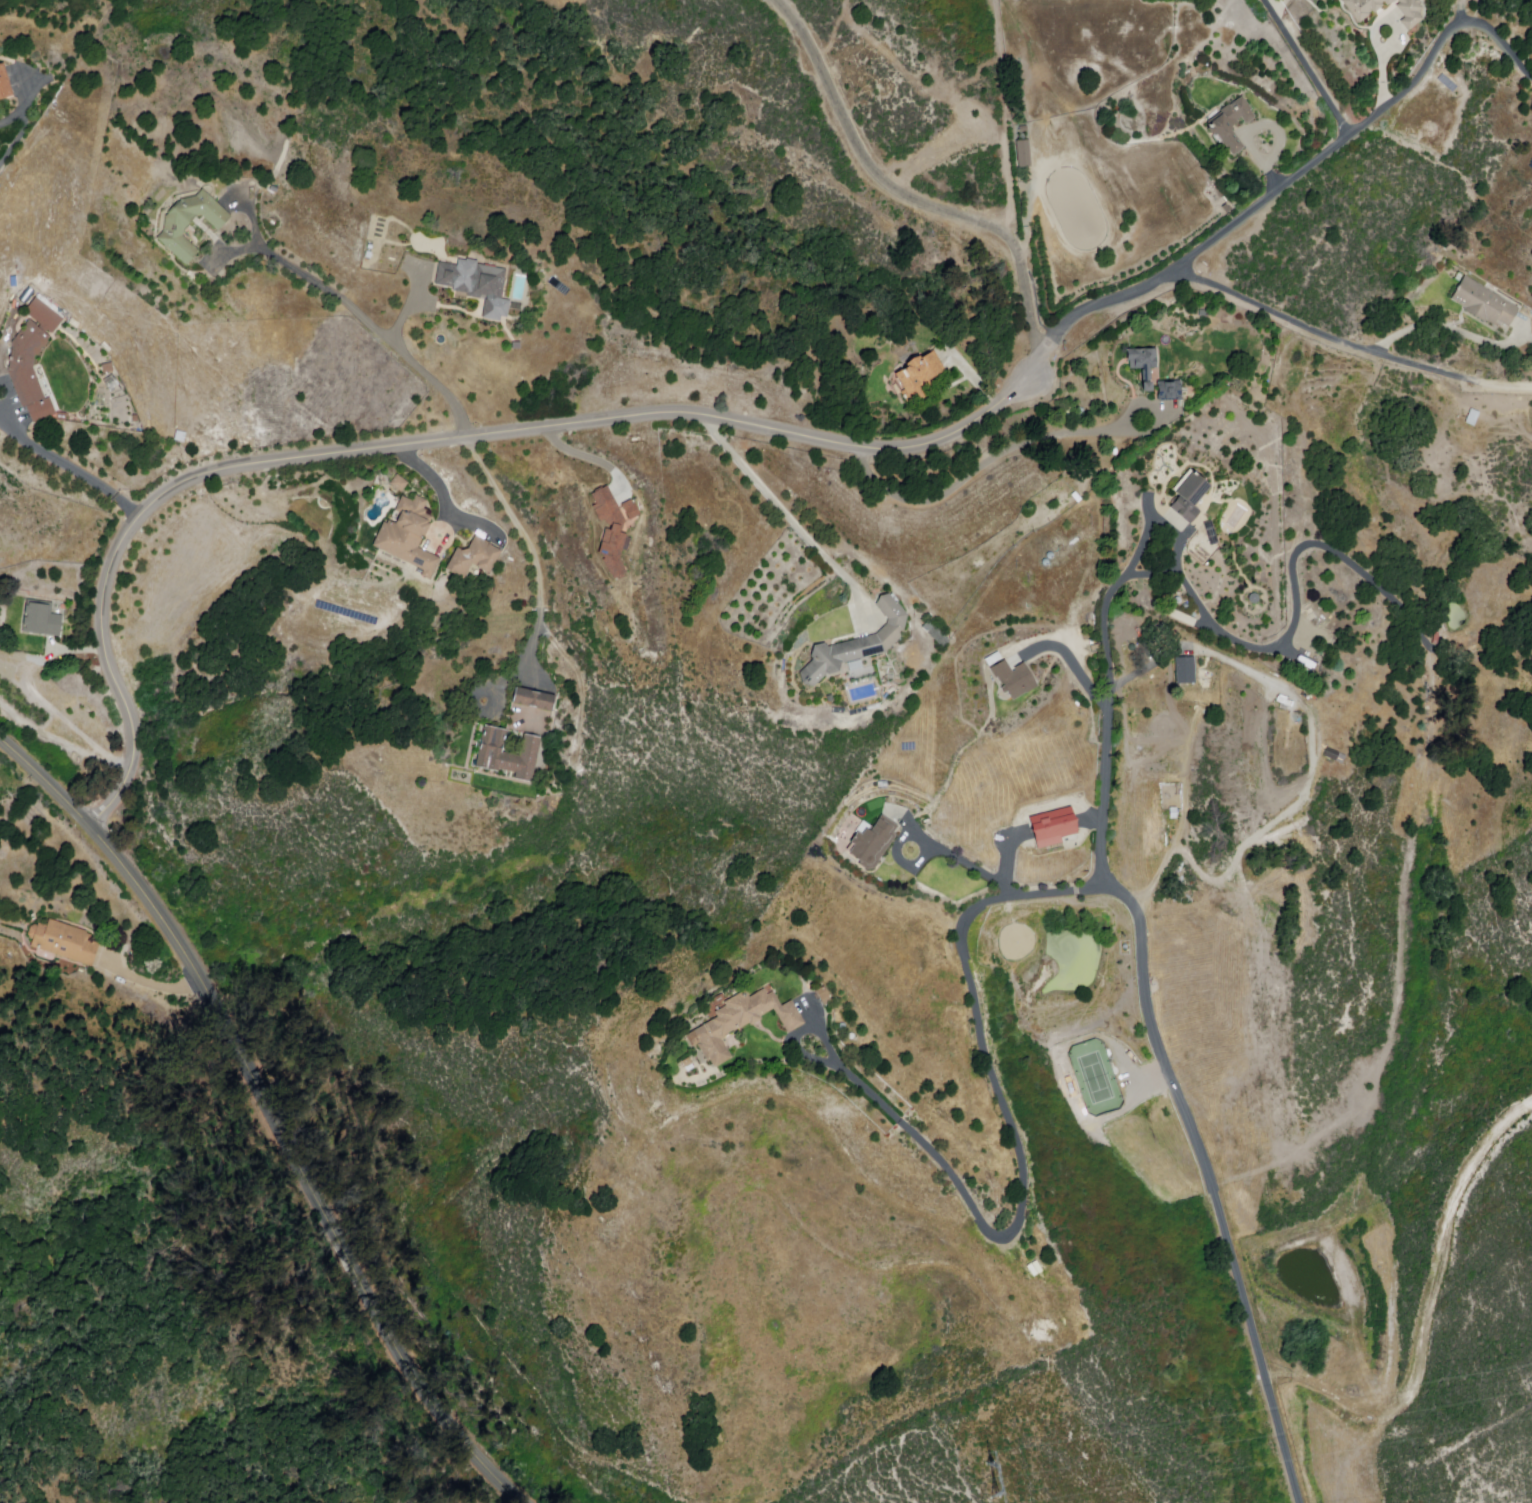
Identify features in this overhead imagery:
road: (1277, 3)
building: (1363, 8)
building: (1411, 13)
road: (1376, 38)
crop: (1098, 40)
road: (1308, 66)
building: (6, 81)
road: (24, 106)
building: (1229, 123)
road: (1255, 129)
road: (903, 192)
building: (192, 222)
building: (15, 279)
building: (476, 284)
building: (26, 293)
building: (1485, 303)
road: (407, 312)
building: (74, 323)
road: (1456, 331)
road: (1349, 337)
building: (516, 344)
building: (107, 346)
building: (34, 359)
building: (108, 366)
building: (1145, 374)
building: (919, 376)
road: (974, 379)
building: (112, 381)
building: (136, 417)
road: (463, 418)
road: (748, 426)
building: (181, 435)
road: (984, 464)
road: (76, 469)
road: (428, 472)
building: (401, 484)
building: (1189, 496)
building: (630, 509)
road: (789, 514)
road: (1161, 524)
building: (617, 533)
building: (410, 536)
building: (477, 558)
building: (1253, 598)
building: (1179, 618)
building: (43, 619)
building: (935, 633)
building: (856, 643)
road: (1278, 646)
building: (1304, 664)
road: (1075, 667)
building: (1185, 670)
building: (1013, 677)
building: (537, 700)
building: (1330, 753)
building: (510, 754)
building: (1055, 825)
building: (1152, 829)
building: (867, 843)
road: (967, 865)
building: (61, 944)
road: (155, 982)
building: (741, 1022)
park: (1096, 1078)
road: (1177, 1103)
road: (266, 1114)
road: (1010, 1126)
power tower: (988, 1485)

